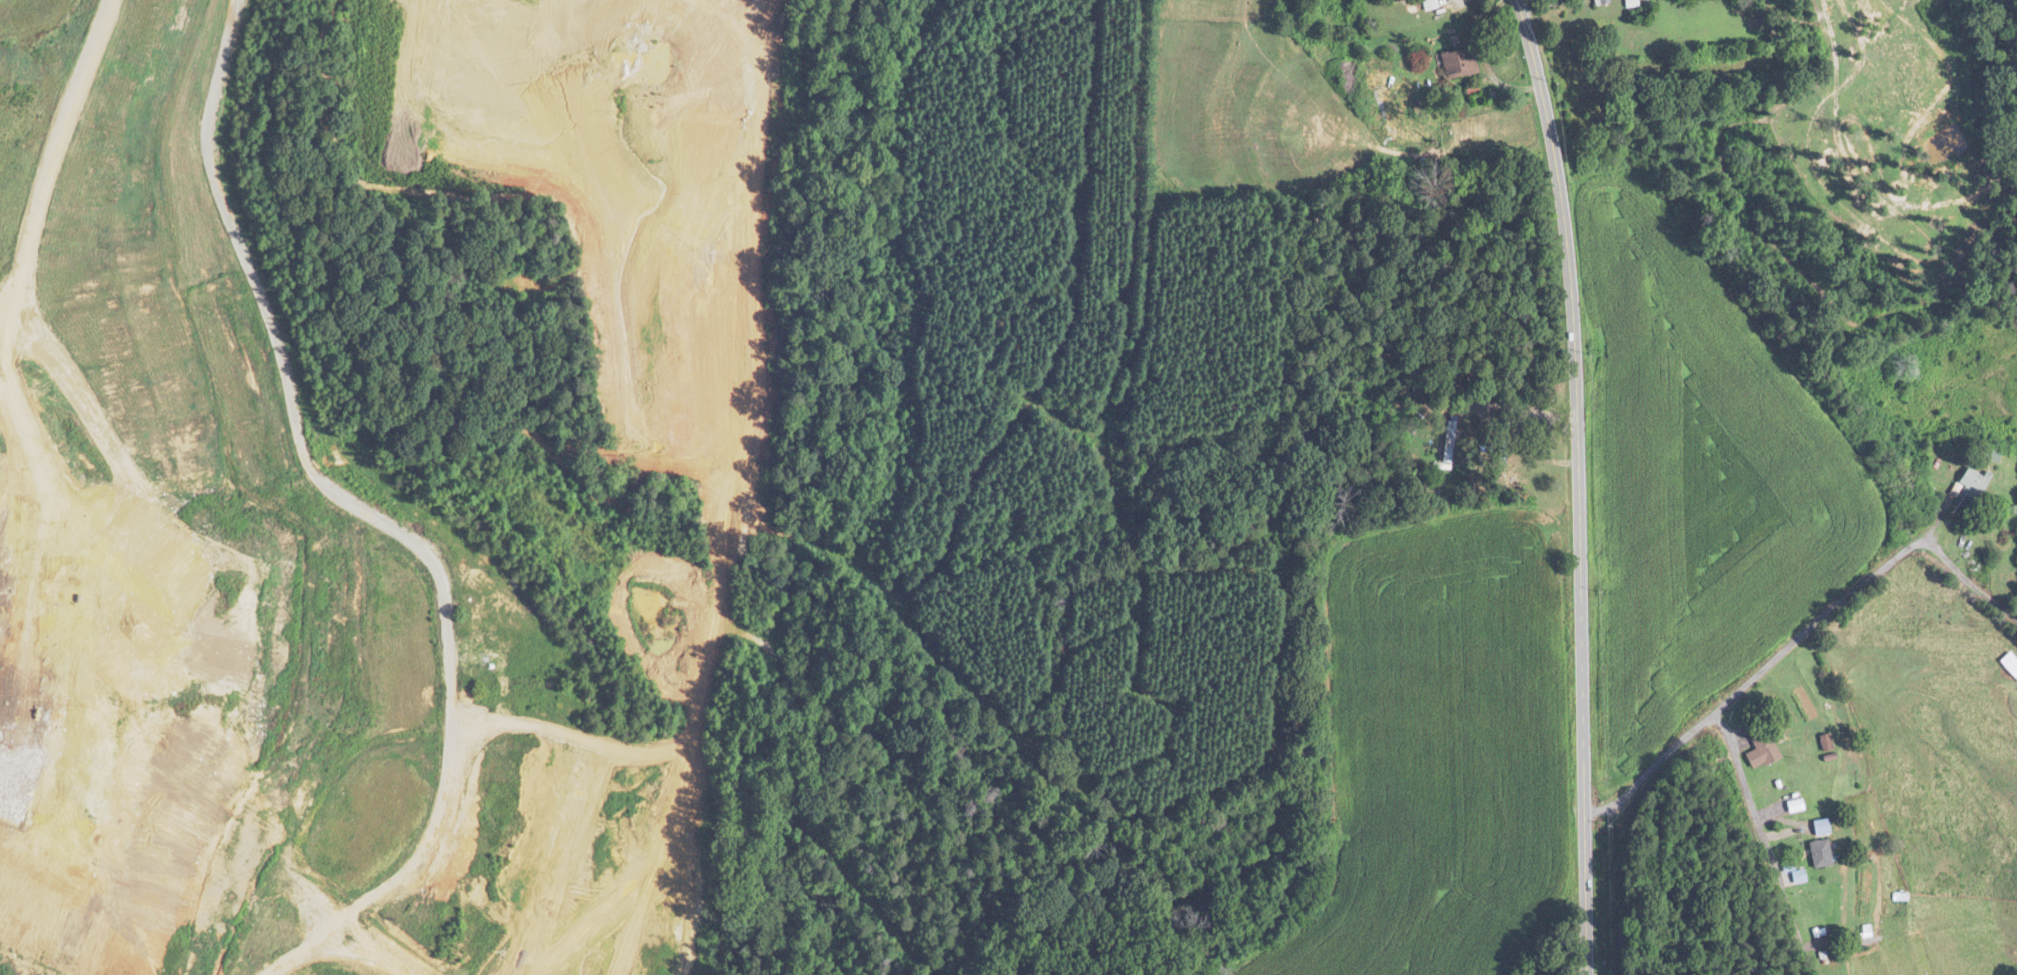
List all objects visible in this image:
building: (1634, 3)
building: (1432, 4)
building: (1462, 63)
building: (1503, 437)
building: (1975, 482)
road: (1578, 485)
road: (1797, 638)
building: (1829, 741)
building: (1763, 743)
building: (1797, 802)
building: (1824, 827)
road: (1763, 843)
building: (1823, 853)
building: (1869, 933)

